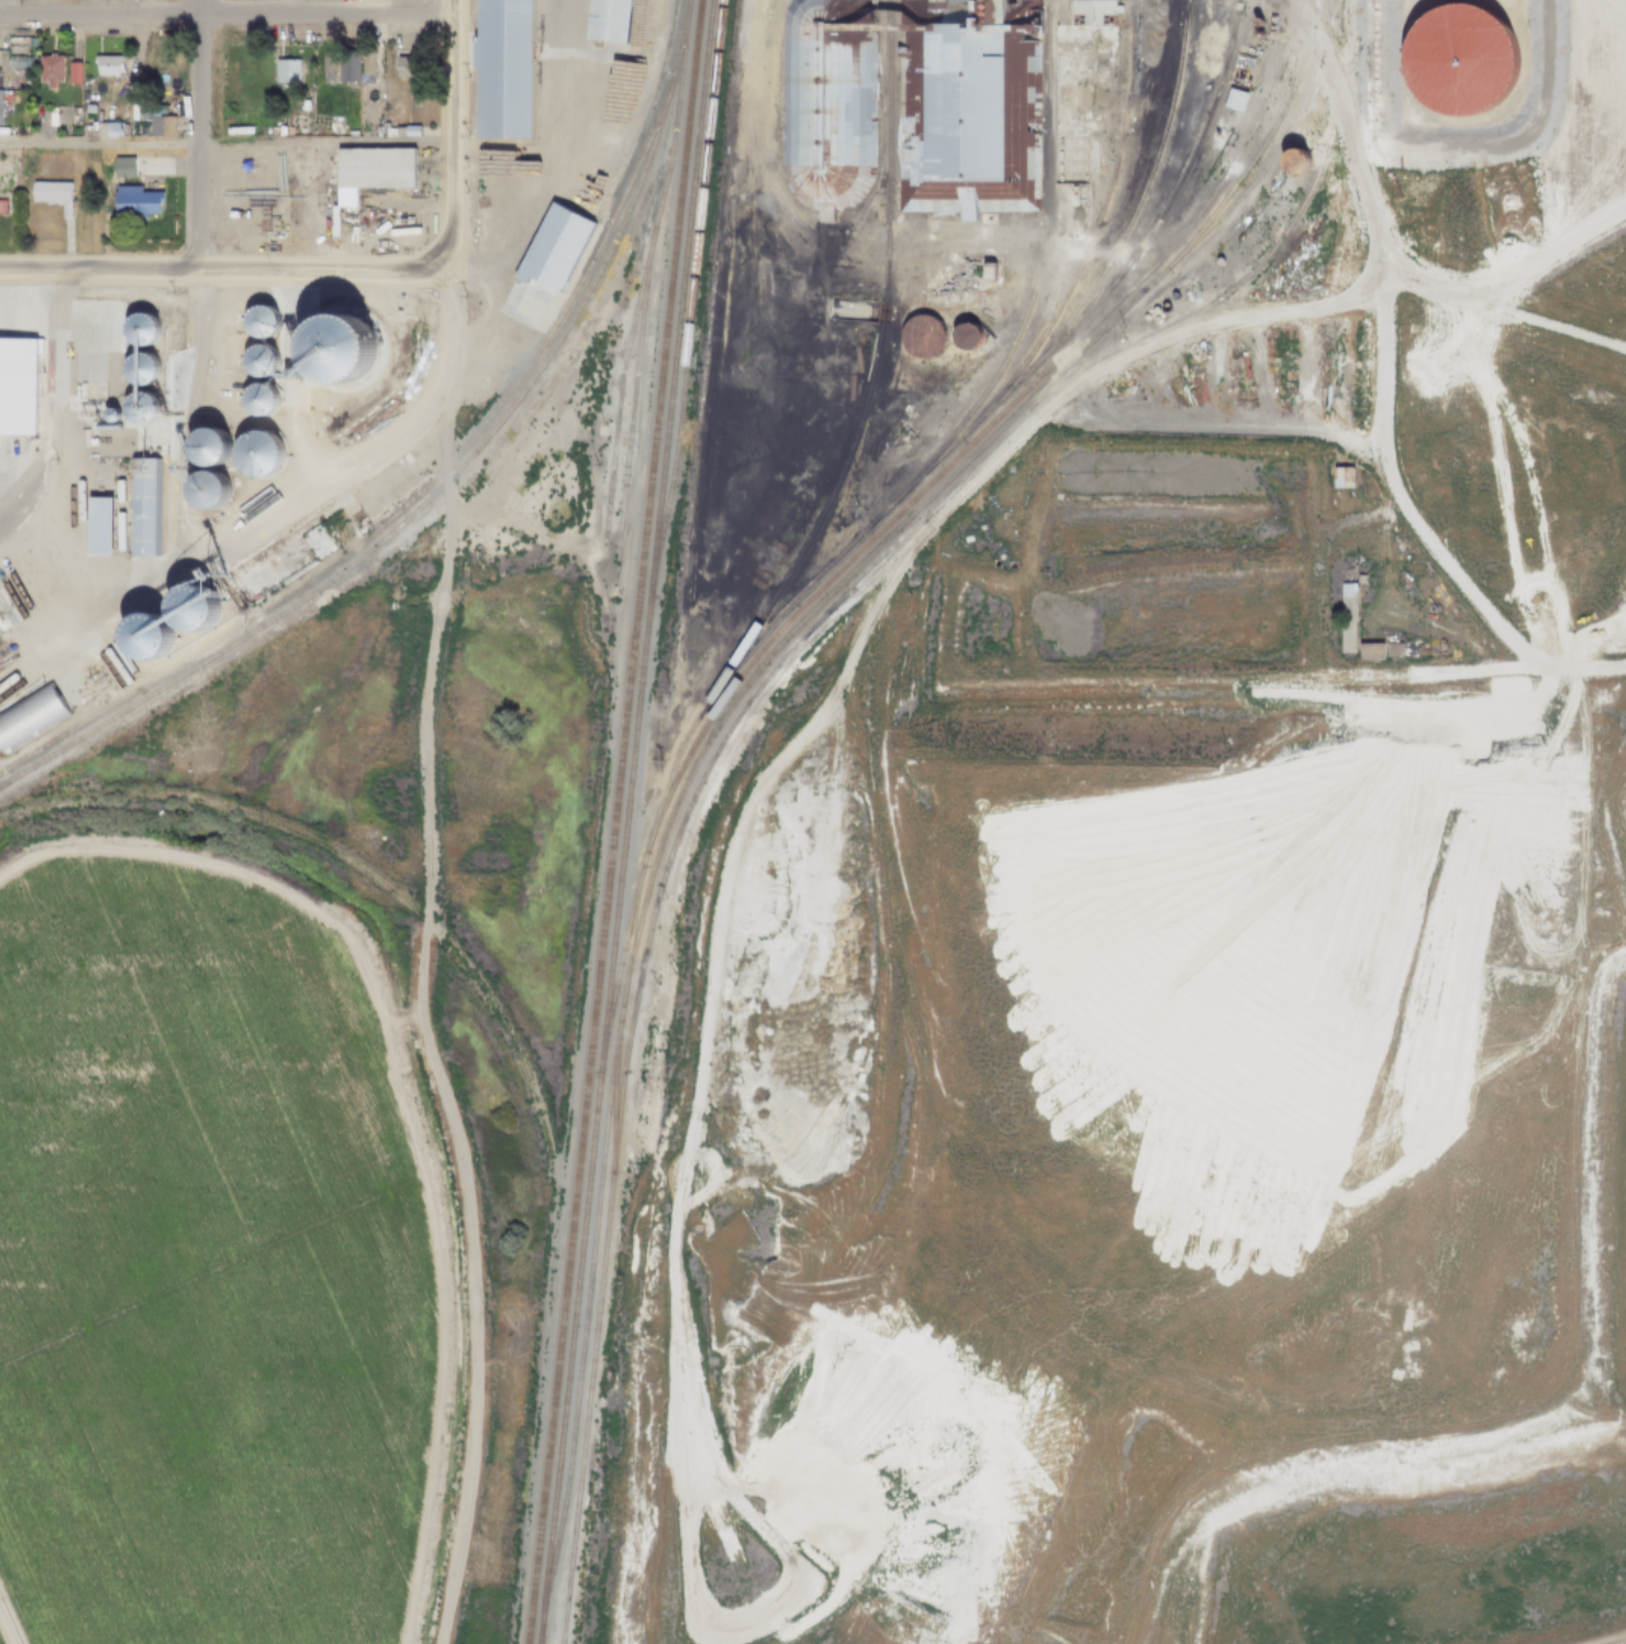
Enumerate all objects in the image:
building: (979, 0)
storage tank: (979, 0)
road: (1506, 2)
road: (1516, 2)
building: (980, 7)
storage tank: (980, 7)
building: (979, 14)
storage tank: (979, 14)
road: (224, 20)
building: (604, 20)
building: (1454, 60)
storage tank: (1454, 60)
building: (1081, 61)
building: (350, 64)
building: (104, 65)
building: (323, 65)
building: (405, 68)
building: (498, 68)
building: (46, 71)
building: (283, 72)
building: (70, 73)
building: (1234, 99)
building: (826, 101)
building: (961, 112)
road: (622, 117)
road: (1448, 122)
building: (332, 126)
building: (159, 127)
building: (110, 129)
building: (388, 132)
building: (409, 132)
road: (195, 135)
railway: (1282, 136)
road: (284, 141)
building: (1075, 150)
building: (1290, 161)
storage tank: (1290, 161)
building: (119, 166)
road: (536, 166)
building: (368, 171)
building: (49, 196)
building: (132, 201)
building: (255, 203)
building: (1, 205)
railway: (1092, 231)
building: (549, 251)
road: (1549, 254)
railway: (1040, 257)
building: (913, 258)
storage tank: (913, 258)
building: (1004, 261)
storage tank: (1004, 261)
road: (219, 270)
building: (952, 279)
railway: (693, 282)
road: (1352, 298)
building: (986, 299)
railway: (642, 303)
building: (982, 310)
storage tank: (982, 310)
road: (1497, 311)
building: (1000, 321)
storage tank: (1000, 321)
road: (46, 323)
building: (919, 336)
storage tank: (919, 336)
building: (963, 336)
storage tank: (963, 336)
railway: (876, 363)
building: (45, 366)
road: (45, 366)
road: (1376, 374)
road: (59, 394)
building: (83, 401)
railway: (617, 408)
road: (151, 410)
railway: (956, 441)
building: (206, 448)
silo: (206, 448)
road: (1000, 459)
building: (1341, 475)
railway: (447, 479)
building: (382, 485)
building: (206, 490)
silo: (206, 490)
railway: (916, 494)
railway: (401, 508)
building: (96, 518)
road: (22, 601)
building: (204, 602)
building: (1345, 618)
road: (99, 621)
building: (12, 631)
silo: (12, 631)
building: (20, 648)
silo: (20, 648)
building: (1393, 648)
building: (1368, 649)
road: (37, 674)
road: (77, 681)
railway: (737, 696)
railway: (746, 705)
building: (27, 715)
road: (424, 822)
railway: (612, 822)
railway: (624, 822)
railway: (613, 1105)
road: (713, 1260)
road: (2, 1637)

